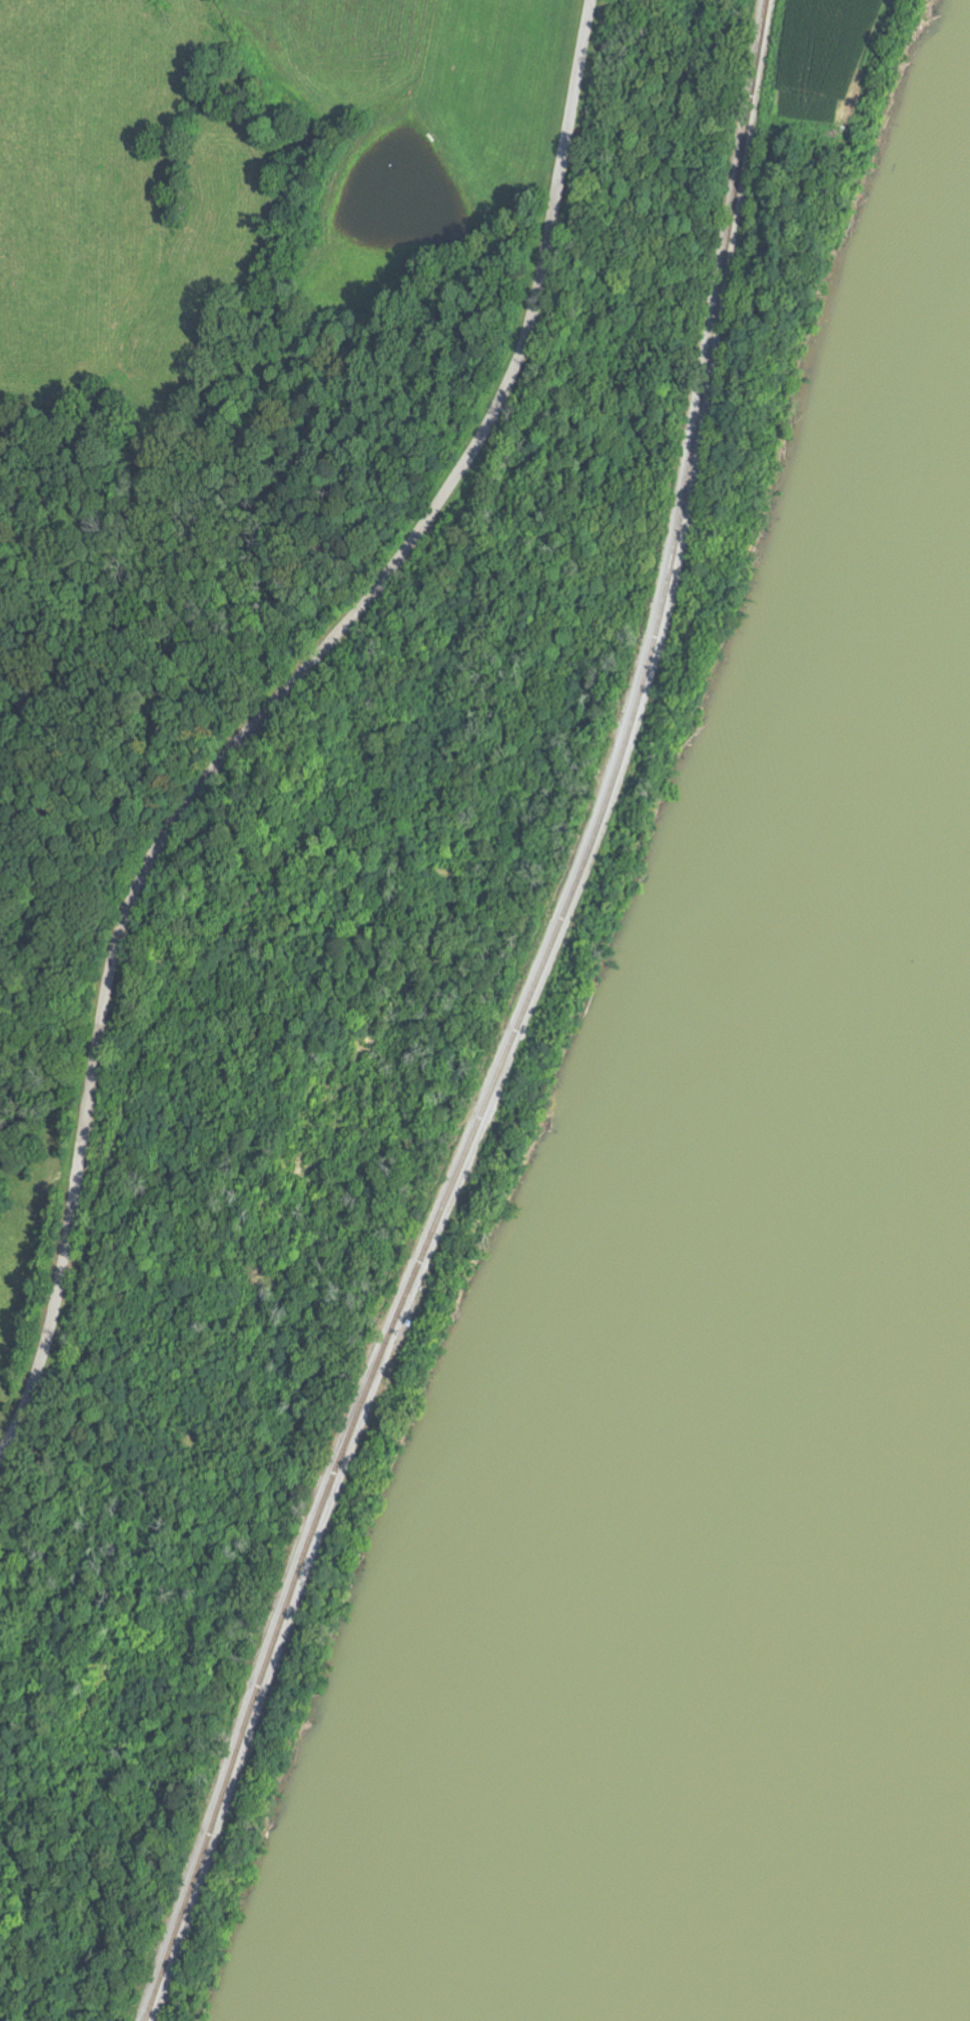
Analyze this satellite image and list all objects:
road: (265, 716)
railway: (465, 1022)
river: (837, 1645)

